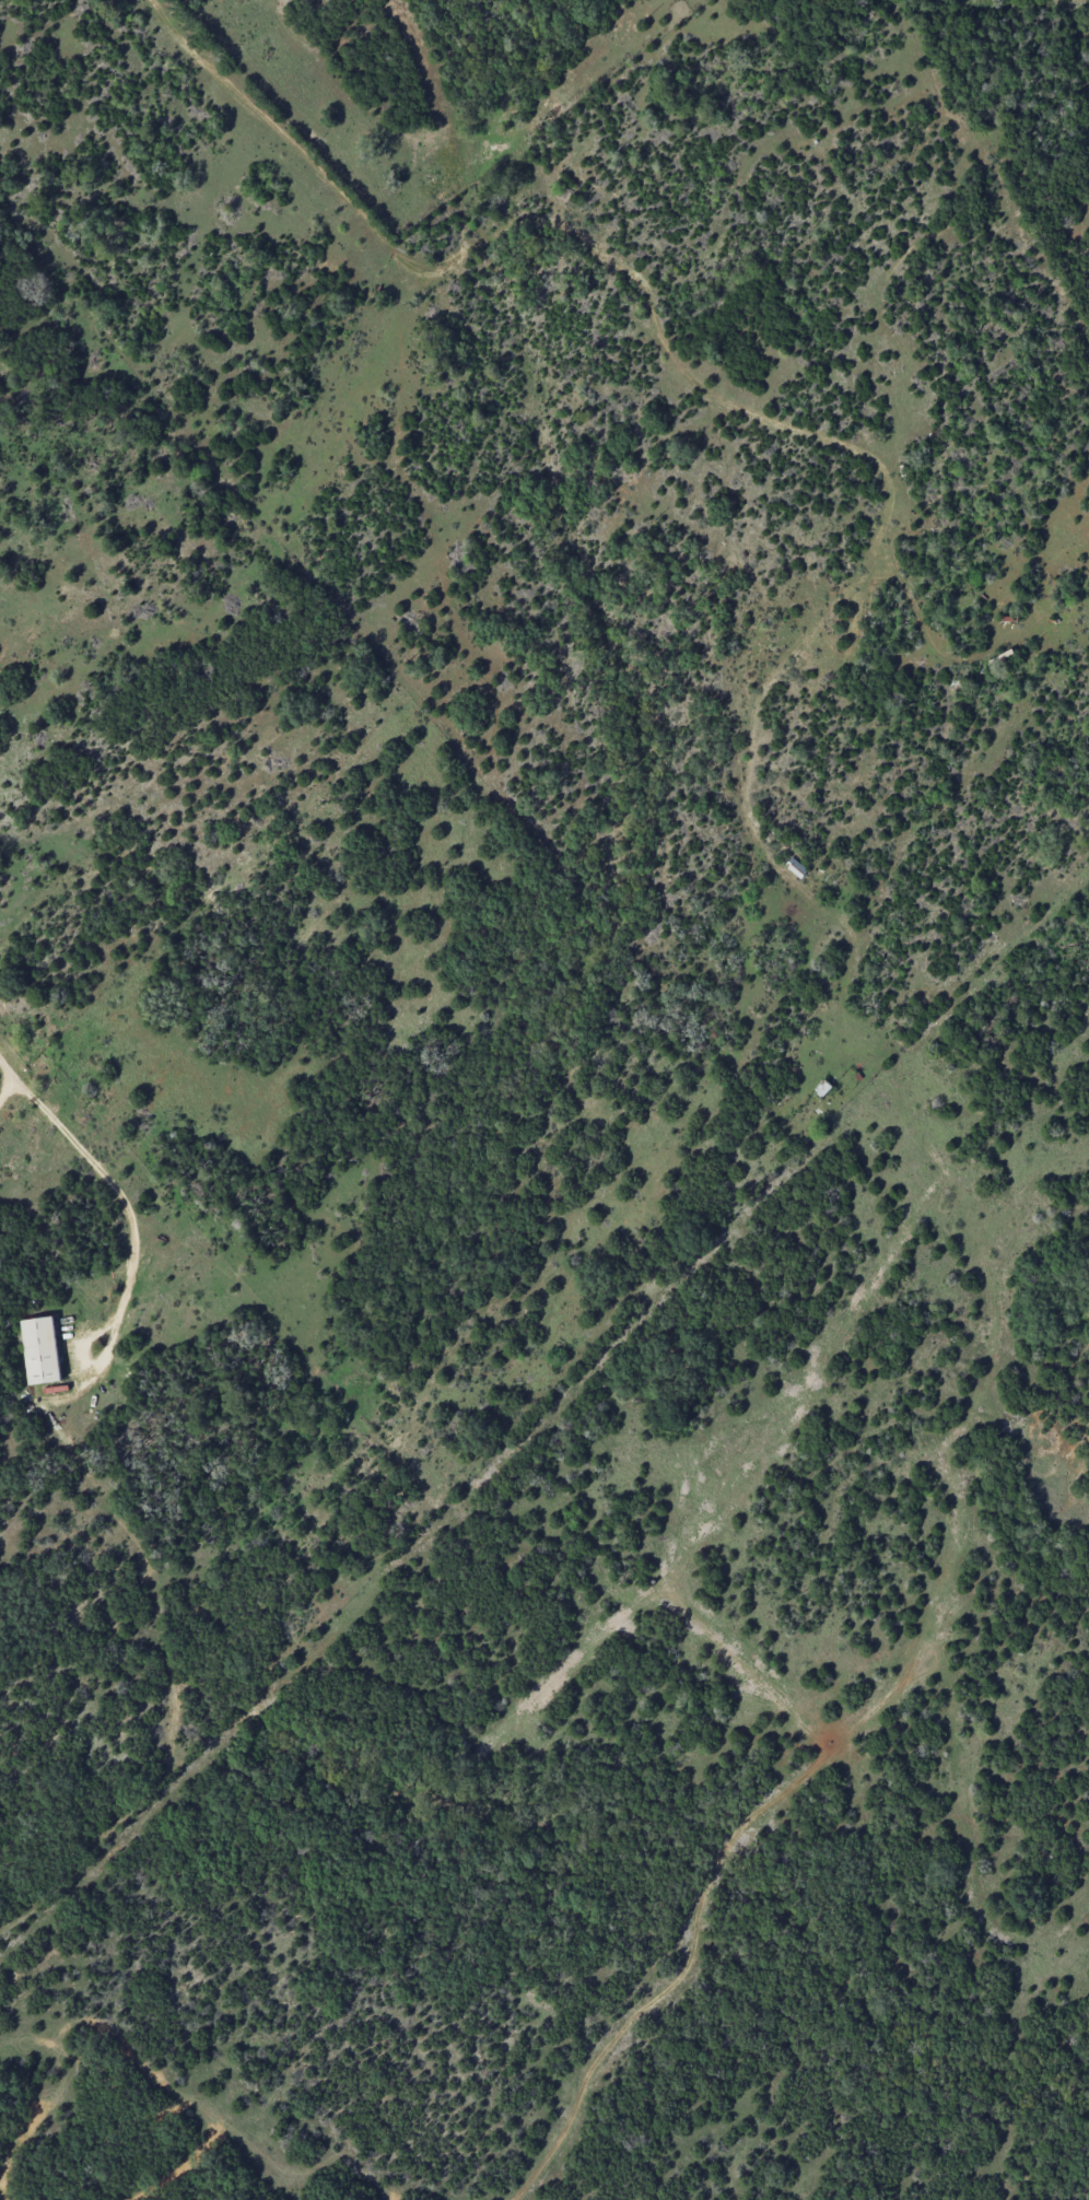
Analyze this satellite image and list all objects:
building: (796, 867)
road: (5, 1089)
road: (106, 1174)
building: (40, 1350)
road: (84, 1366)

